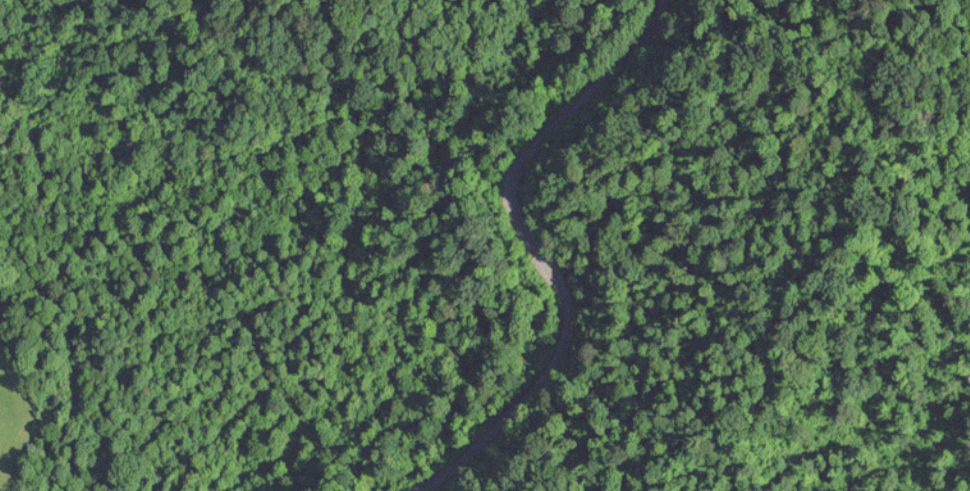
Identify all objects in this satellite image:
road: (536, 248)

